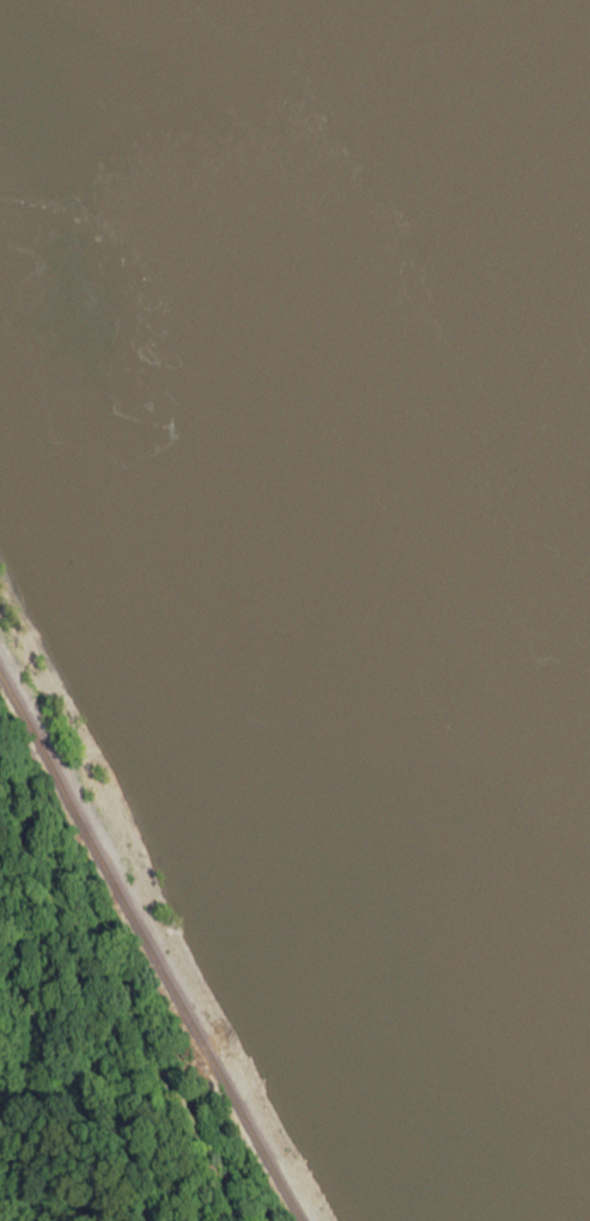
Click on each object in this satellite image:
railway: (166, 919)

